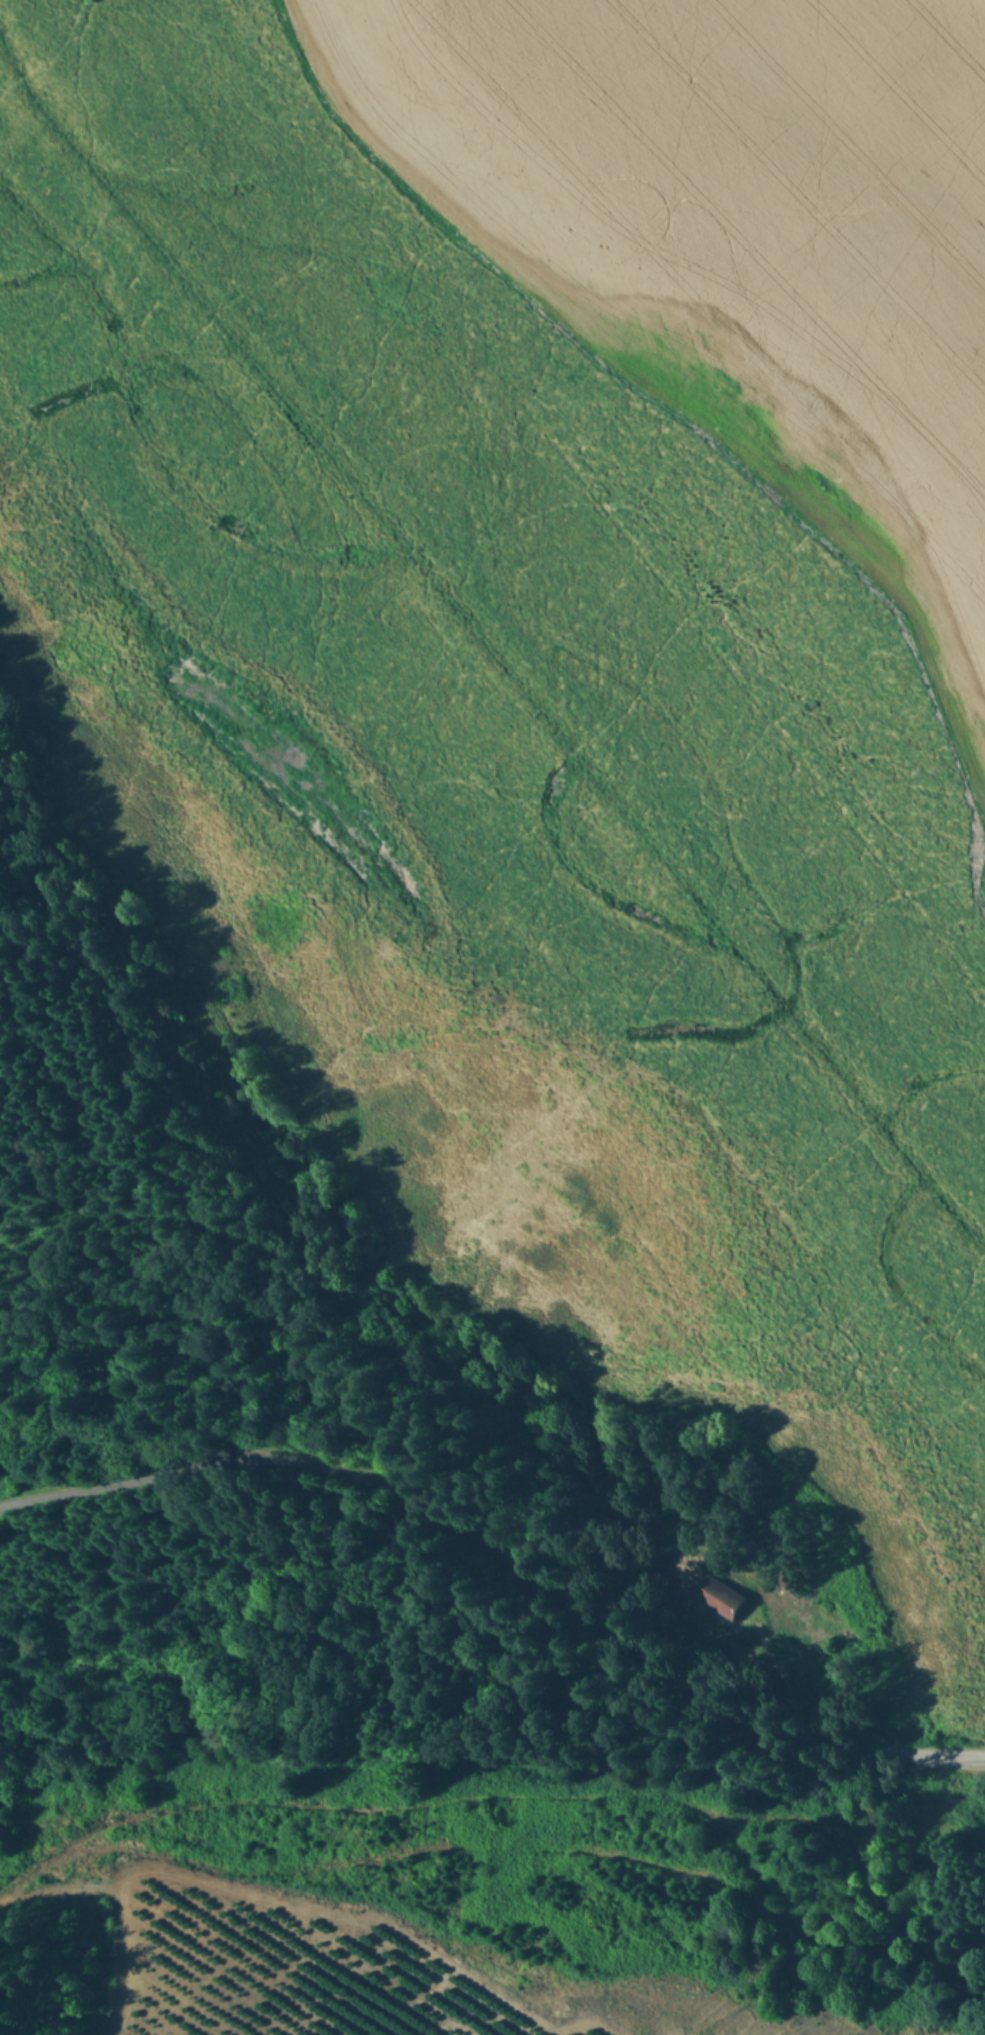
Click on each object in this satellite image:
crop: (555, 661)
road: (503, 1566)
building: (727, 1599)
crop: (285, 1949)

